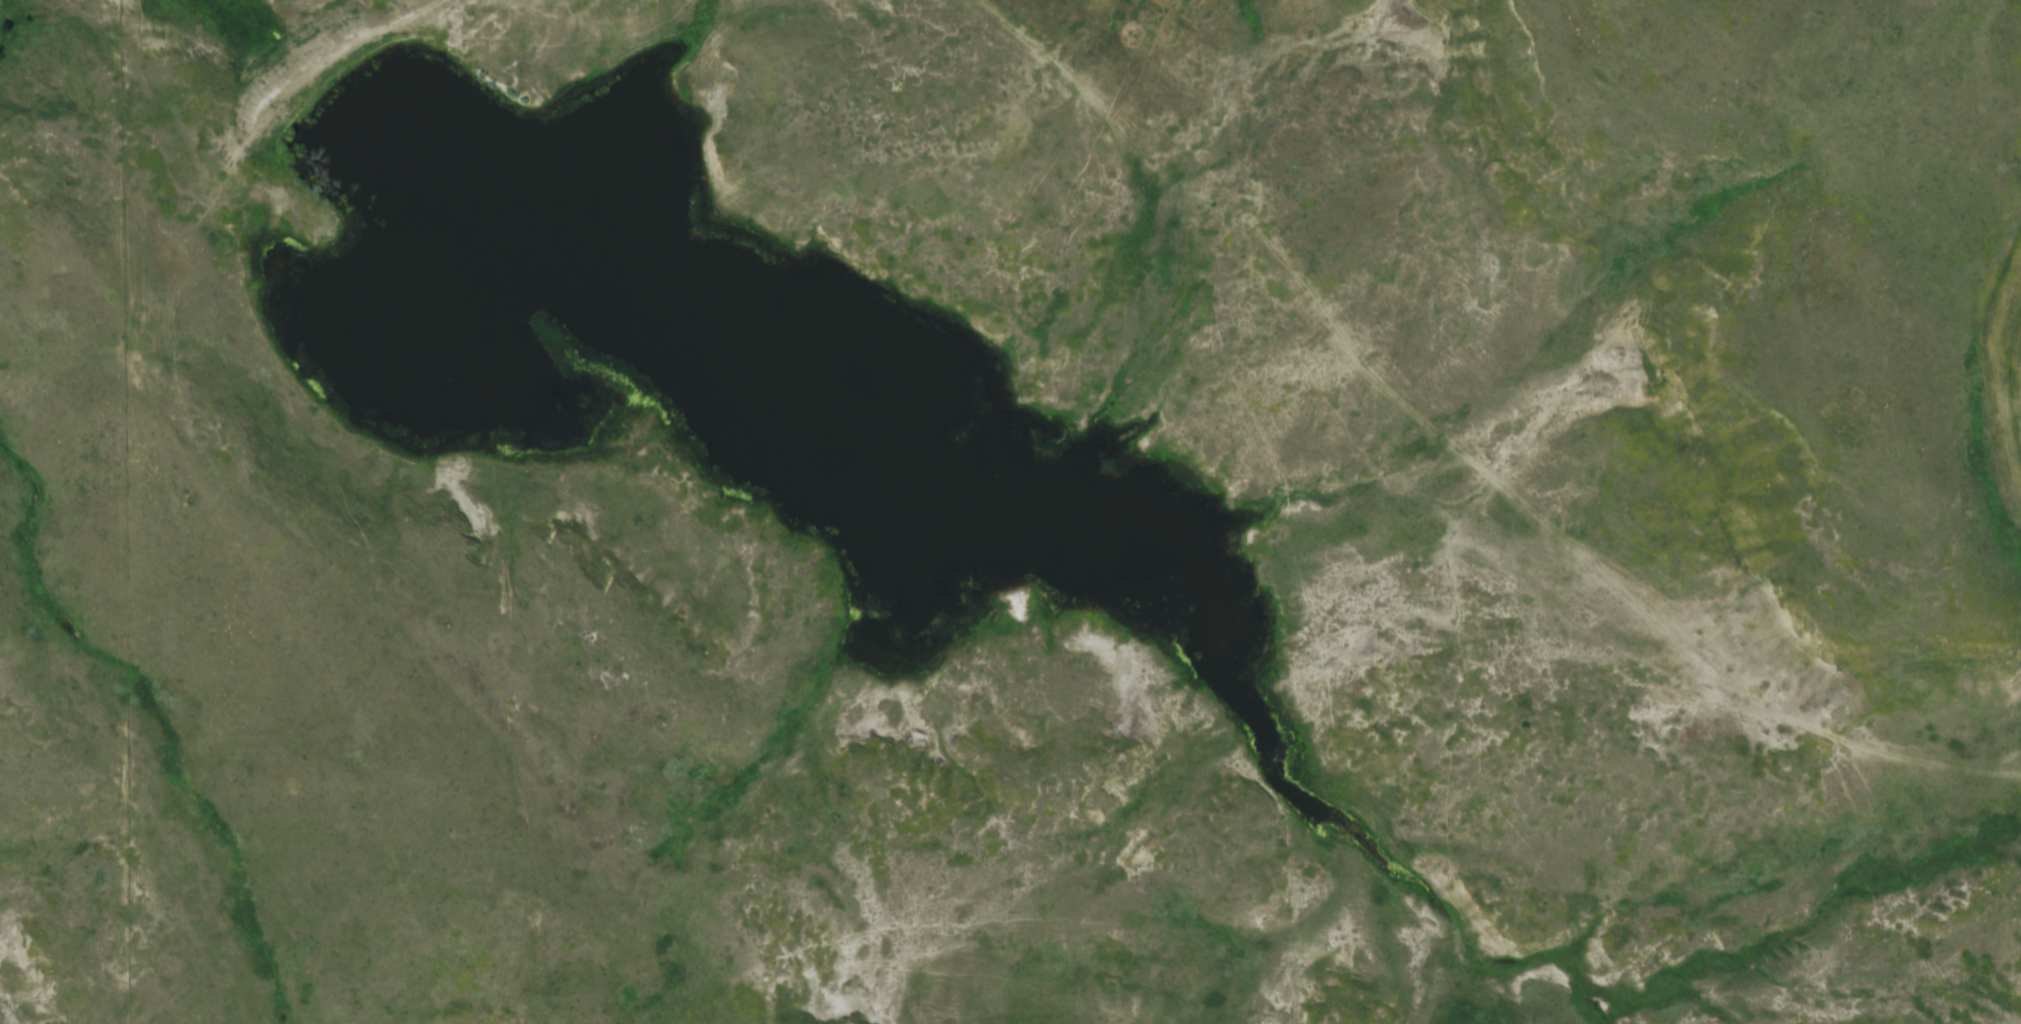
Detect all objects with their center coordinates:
dam: (317, 57)

